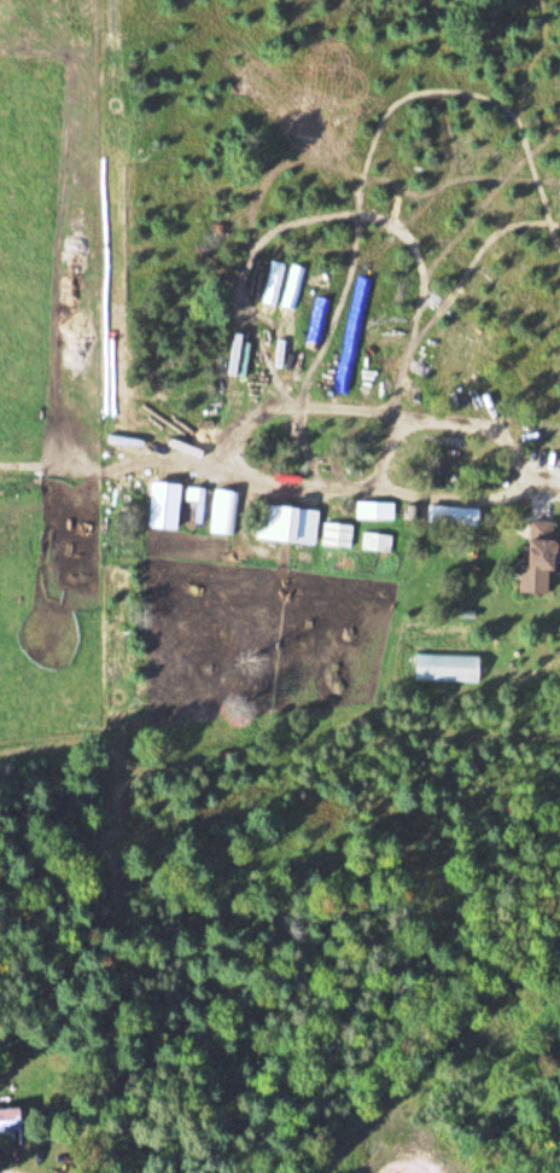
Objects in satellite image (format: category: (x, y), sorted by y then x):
building: (384, 505)
building: (449, 515)
building: (286, 523)
building: (336, 534)
building: (375, 541)
building: (536, 545)
building: (11, 1119)

